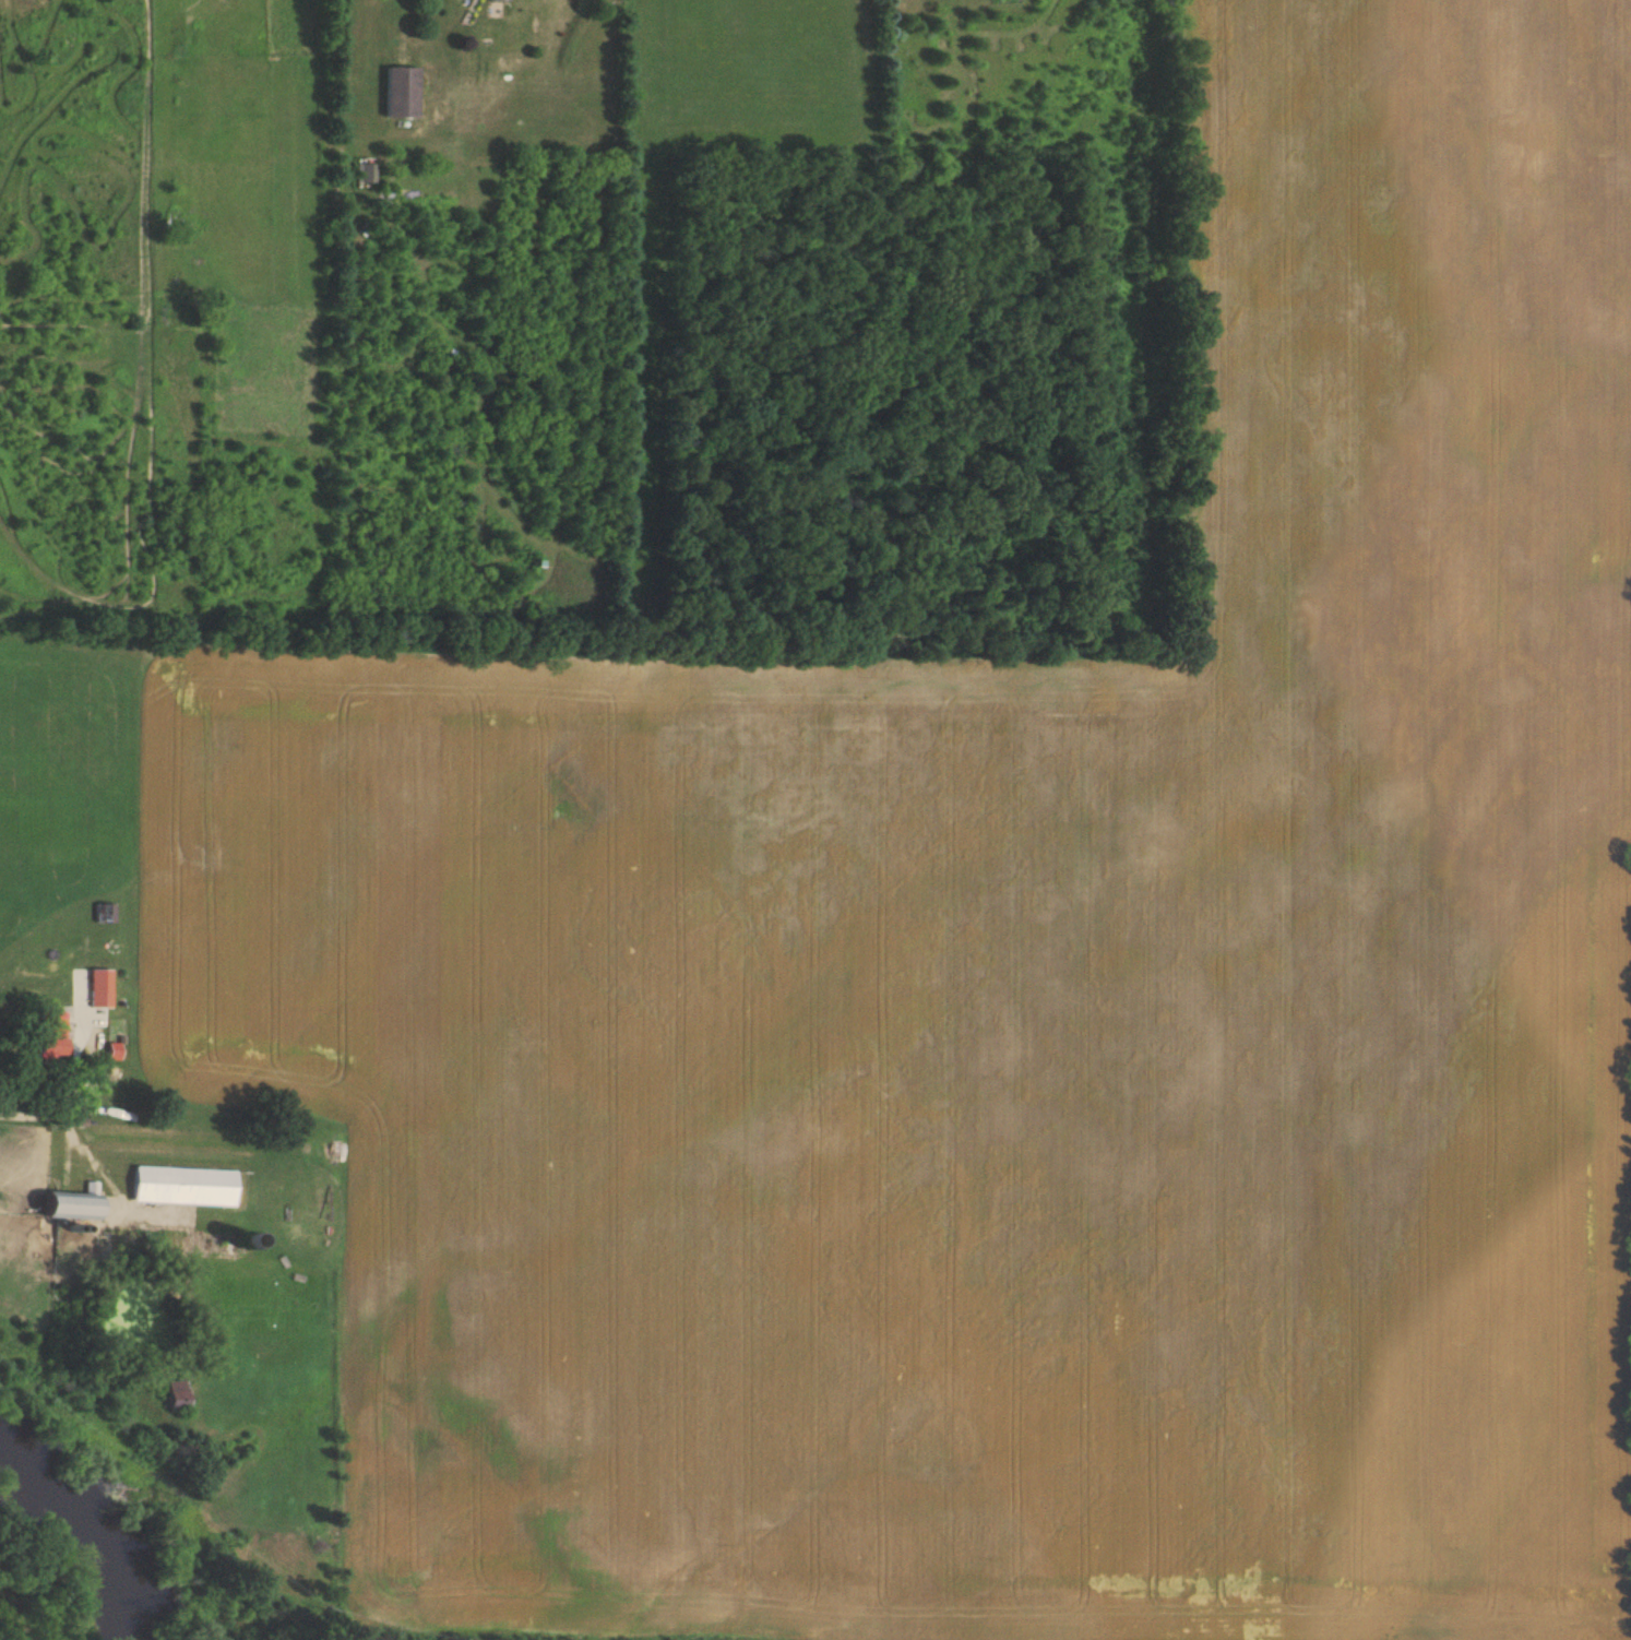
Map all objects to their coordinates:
building: (402, 93)
building: (105, 913)
building: (100, 989)
building: (45, 1047)
building: (111, 1051)
building: (186, 1187)
building: (70, 1205)
building: (176, 1394)
river: (104, 1534)

